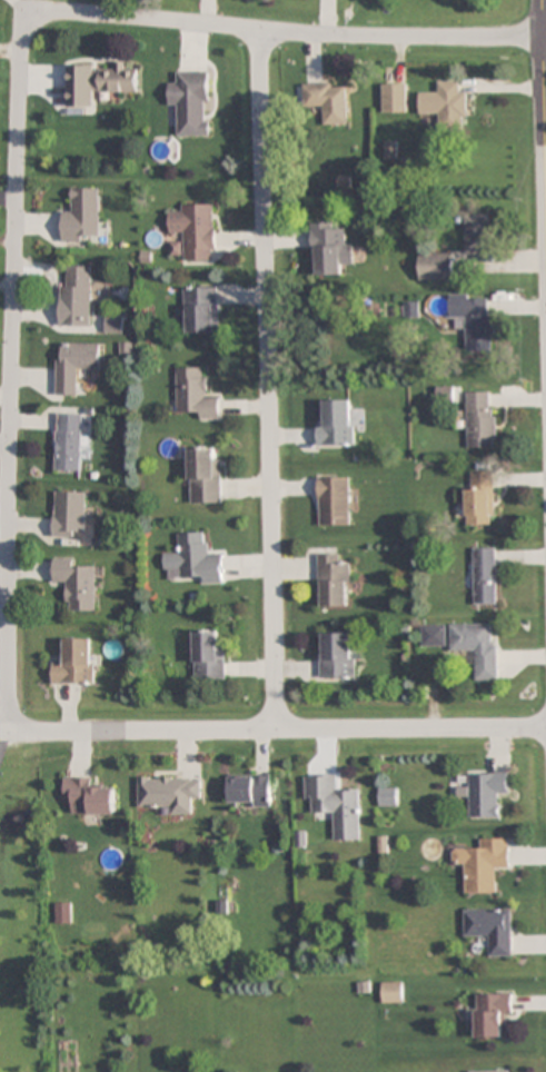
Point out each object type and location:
road: (225, 26)
building: (98, 82)
building: (395, 98)
building: (328, 100)
building: (192, 102)
building: (446, 105)
road: (544, 115)
building: (83, 217)
building: (193, 231)
building: (477, 232)
building: (329, 249)
building: (435, 266)
building: (77, 296)
building: (198, 310)
building: (474, 319)
building: (113, 324)
building: (73, 365)
road: (268, 379)
building: (195, 395)
building: (480, 419)
building: (335, 423)
road: (9, 436)
building: (69, 441)
building: (203, 475)
building: (479, 498)
building: (334, 500)
building: (69, 514)
building: (193, 559)
building: (485, 576)
building: (334, 582)
building: (77, 584)
building: (434, 636)
building: (477, 647)
building: (336, 655)
building: (208, 656)
building: (76, 663)
road: (275, 728)
road: (2, 740)
building: (249, 791)
building: (169, 793)
building: (484, 794)
building: (89, 796)
building: (387, 796)
building: (335, 804)
building: (483, 864)
park: (21, 909)
building: (63, 912)
building: (490, 930)
building: (393, 992)
building: (490, 1013)
building: (492, 1071)

